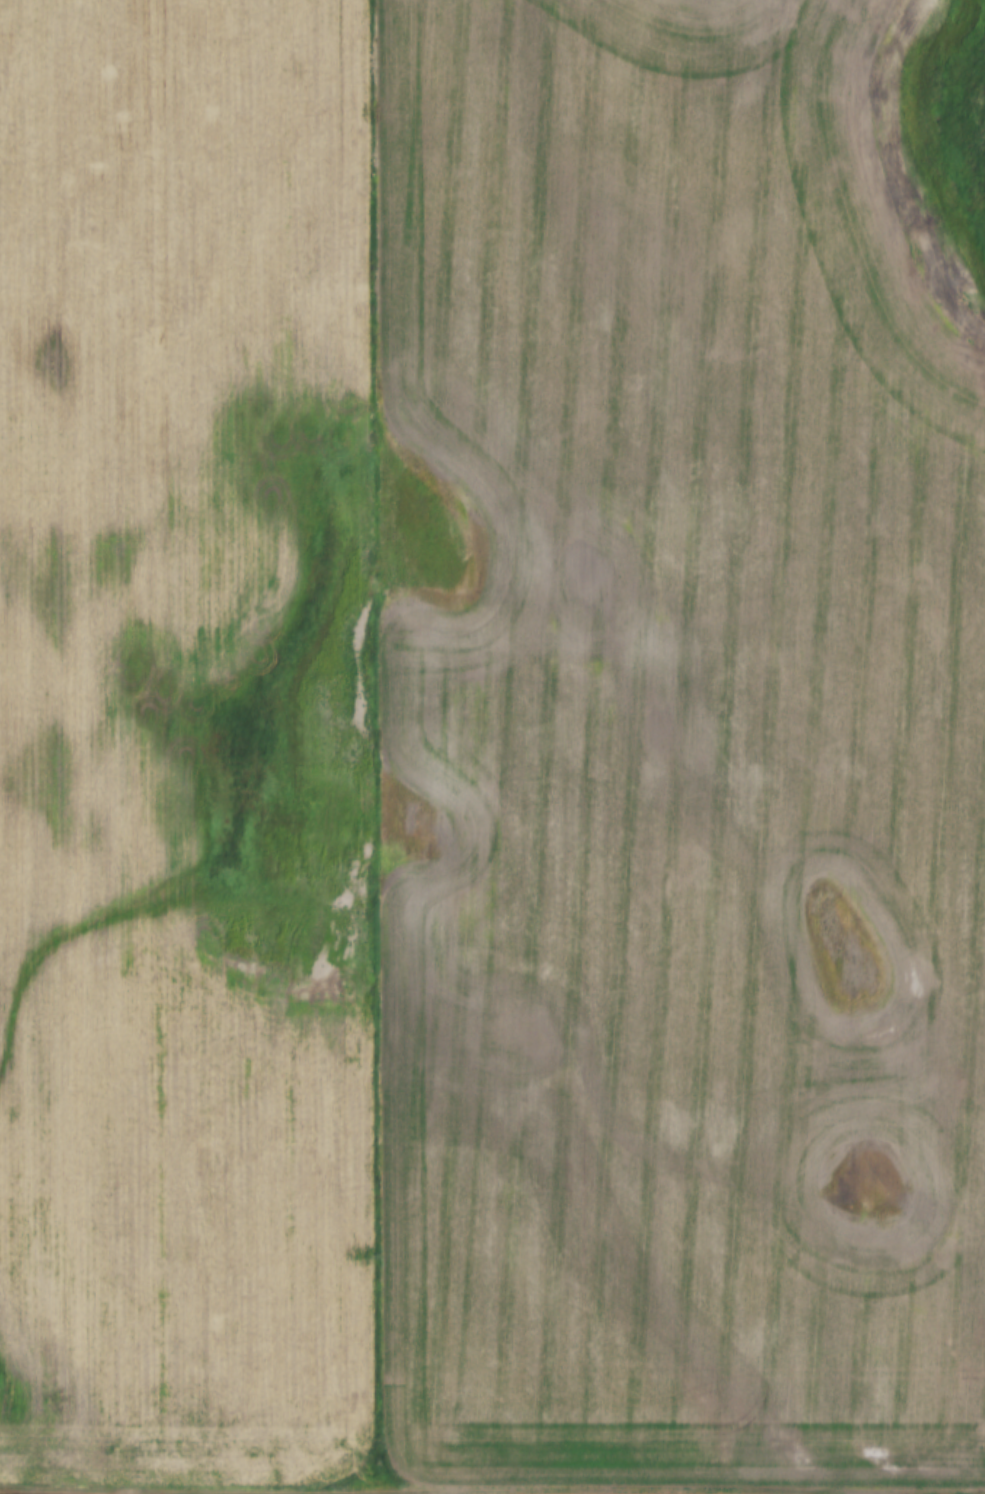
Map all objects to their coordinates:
road: (492, 1491)

